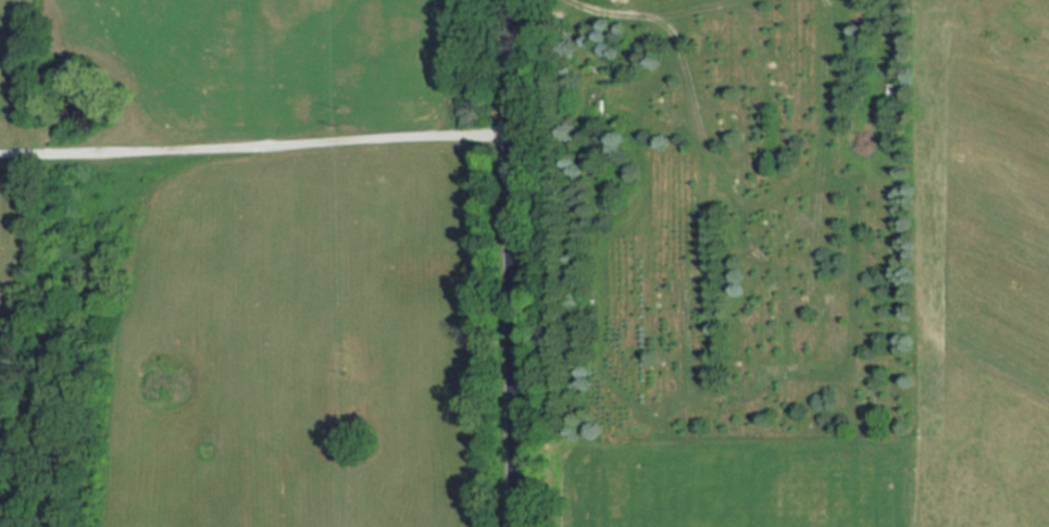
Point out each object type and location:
road: (257, 156)
road: (514, 263)

